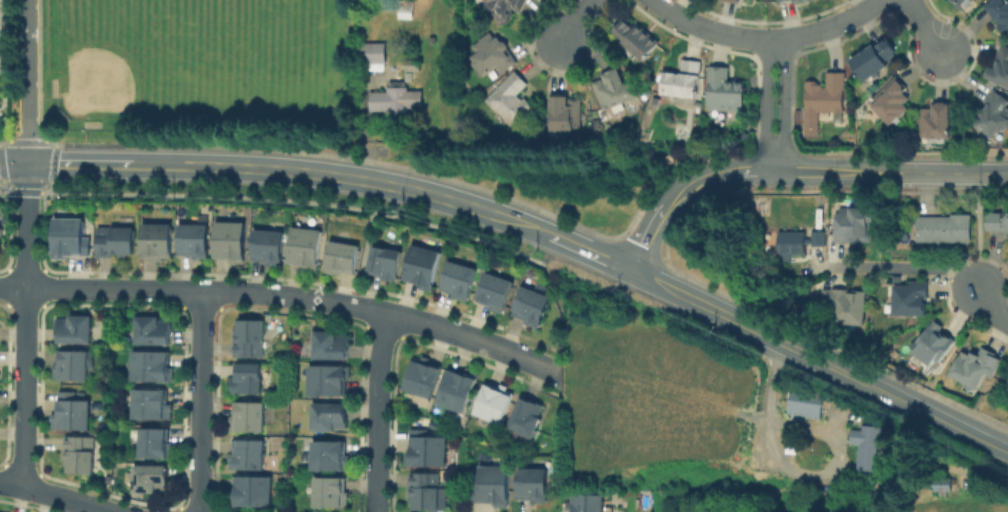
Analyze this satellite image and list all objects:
building: (731, 0)
building: (738, 0)
building: (779, 0)
building: (797, 0)
building: (956, 2)
building: (963, 2)
building: (503, 9)
building: (405, 11)
building: (999, 13)
road: (581, 22)
road: (930, 26)
park: (270, 37)
building: (634, 37)
road: (768, 42)
building: (371, 52)
building: (491, 58)
park: (157, 61)
building: (412, 65)
building: (871, 65)
building: (1000, 66)
road: (27, 82)
building: (682, 83)
building: (728, 88)
building: (611, 92)
building: (396, 98)
building: (510, 103)
building: (821, 104)
building: (890, 105)
road: (765, 106)
road: (785, 107)
building: (995, 116)
building: (564, 117)
building: (937, 123)
road: (13, 165)
traffic signals: (28, 165)
road: (79, 165)
road: (2, 172)
road: (735, 172)
road: (949, 173)
road: (343, 178)
road: (29, 191)
building: (997, 224)
building: (855, 227)
road: (10, 228)
building: (946, 229)
road: (979, 231)
building: (2, 239)
building: (71, 239)
building: (119, 239)
building: (162, 239)
building: (195, 241)
building: (233, 242)
building: (271, 246)
building: (307, 249)
building: (804, 250)
road: (590, 254)
building: (344, 257)
building: (386, 263)
road: (902, 267)
building: (424, 268)
building: (459, 281)
building: (495, 292)
road: (279, 296)
building: (912, 302)
road: (40, 305)
building: (530, 308)
building: (846, 308)
road: (990, 309)
road: (25, 326)
building: (77, 330)
building: (155, 330)
building: (251, 339)
building: (332, 346)
building: (933, 347)
road: (820, 362)
building: (74, 366)
building: (153, 366)
building: (976, 372)
building: (425, 379)
building: (247, 380)
building: (329, 381)
building: (1006, 383)
building: (460, 392)
road: (201, 402)
building: (806, 403)
building: (496, 404)
building: (155, 405)
building: (73, 412)
road: (377, 413)
building: (331, 418)
building: (528, 418)
building: (247, 419)
building: (158, 444)
building: (866, 448)
building: (427, 450)
building: (81, 455)
building: (250, 455)
building: (331, 456)
road: (795, 471)
building: (153, 478)
building: (942, 483)
building: (537, 486)
building: (494, 487)
building: (254, 492)
building: (333, 492)
building: (427, 493)
road: (55, 496)
building: (590, 503)

